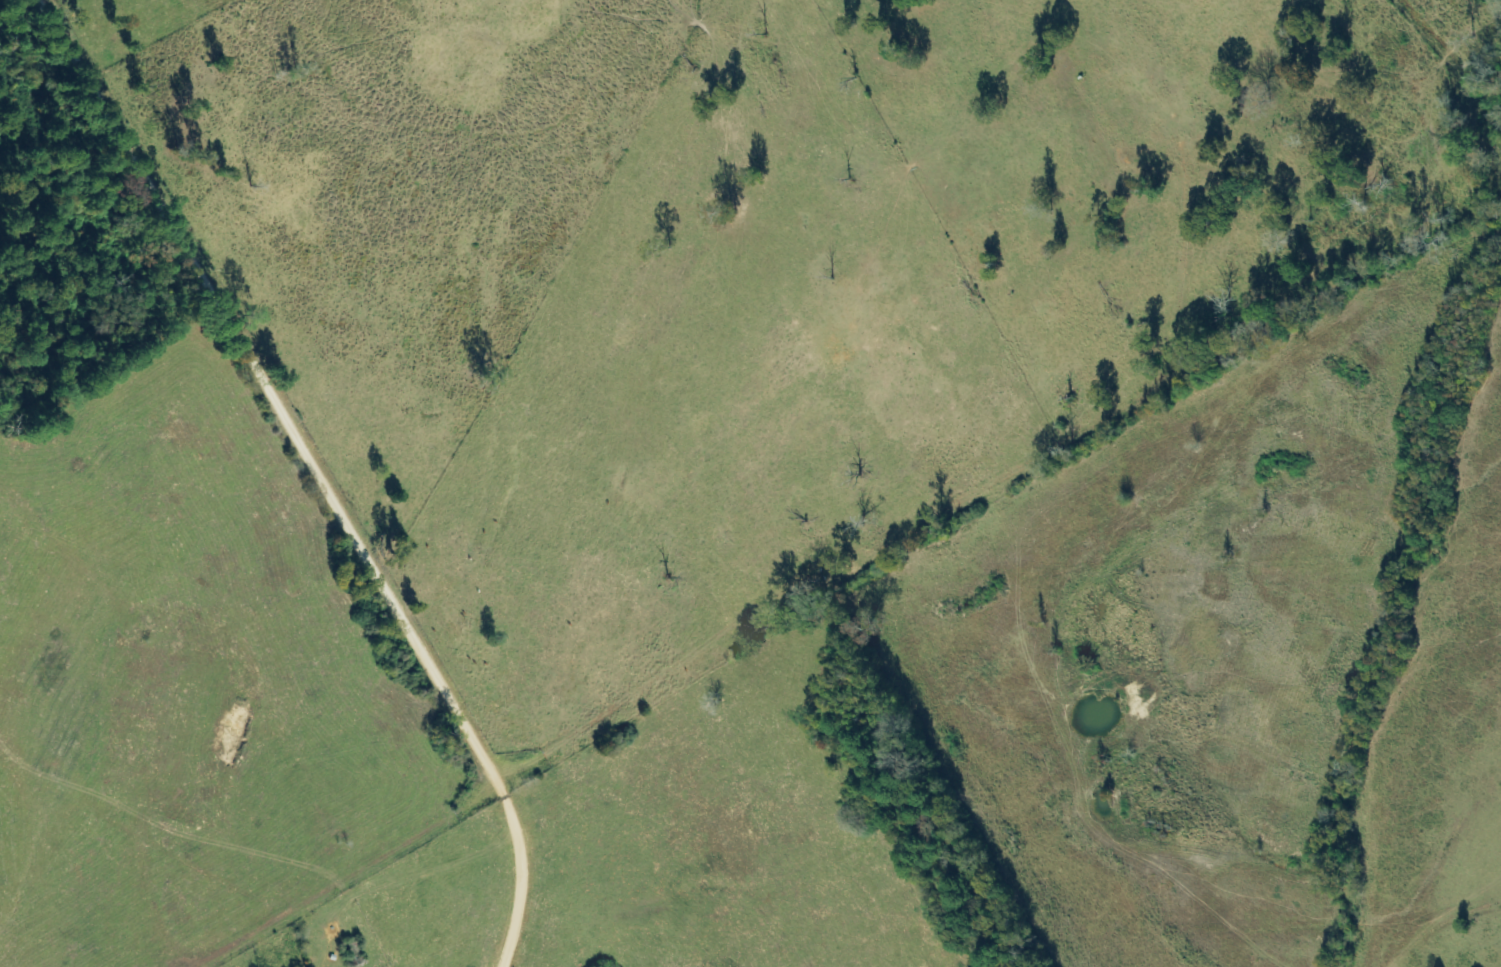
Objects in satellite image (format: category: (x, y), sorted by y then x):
road: (310, 477)
road: (201, 719)

